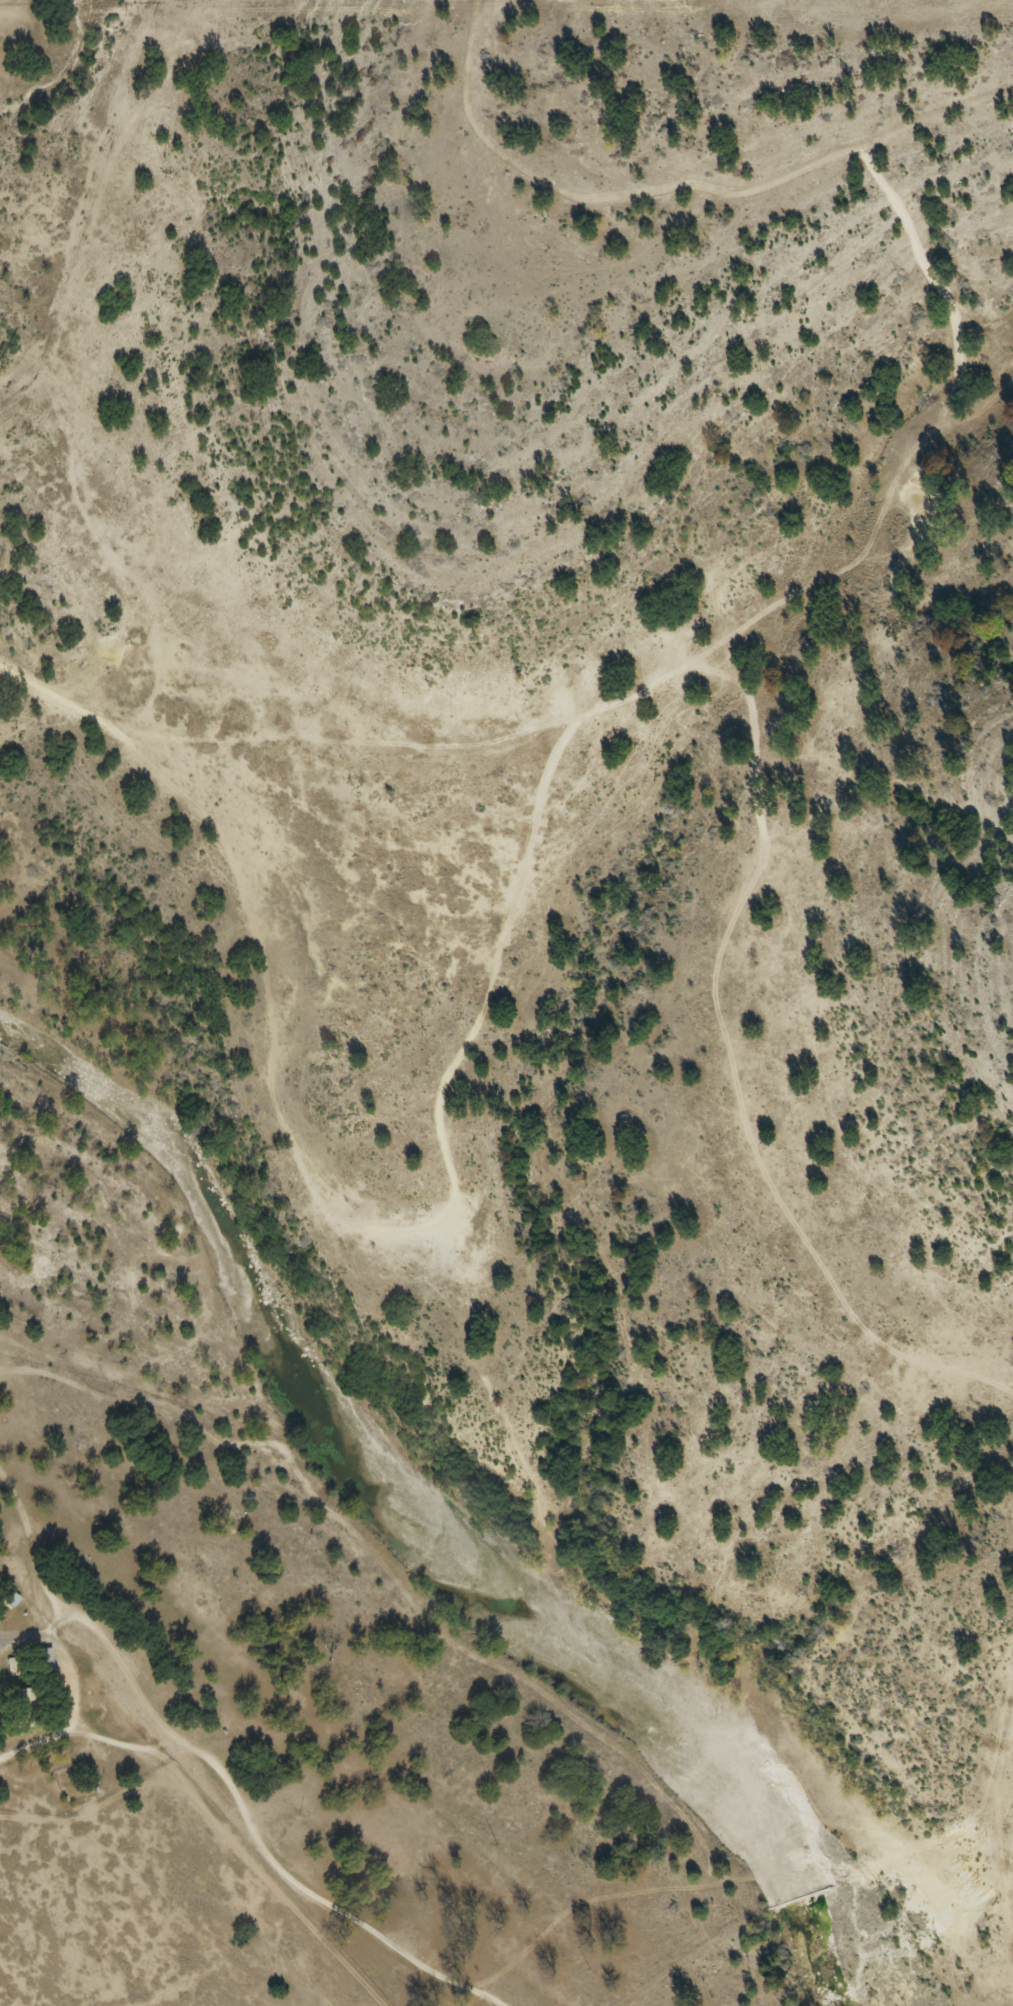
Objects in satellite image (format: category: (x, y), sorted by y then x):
building: (46, 1659)
road: (74, 1697)

